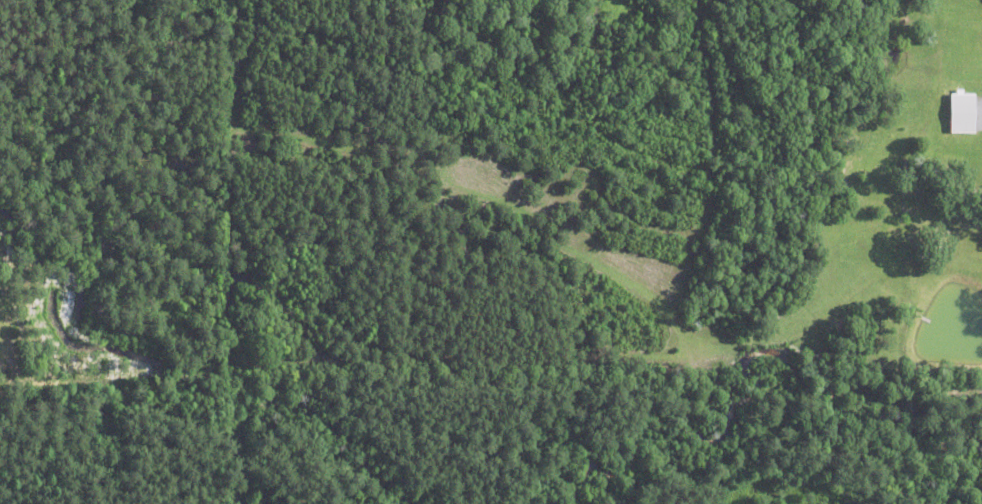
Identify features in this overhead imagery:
building: (962, 112)

